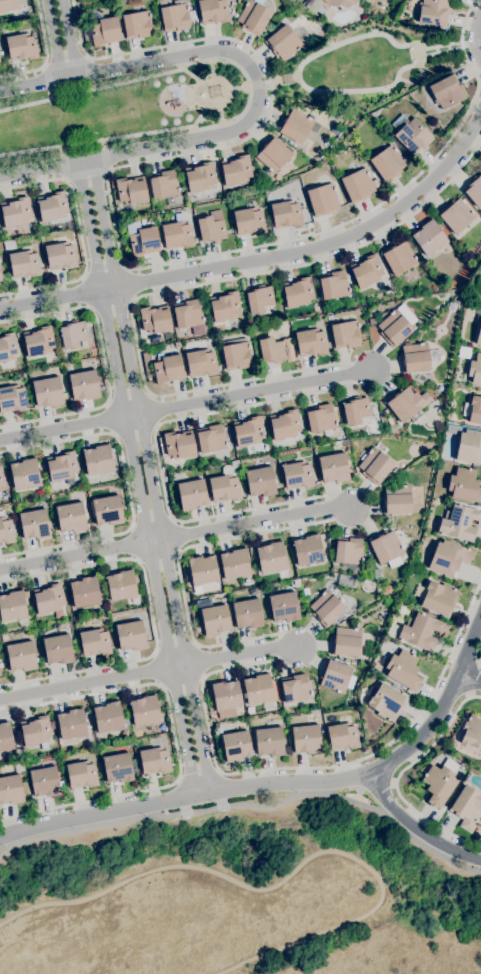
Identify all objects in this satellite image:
building: (332, 2)
building: (383, 2)
building: (10, 5)
building: (233, 5)
building: (213, 11)
building: (434, 11)
building: (253, 16)
building: (174, 17)
building: (137, 24)
building: (104, 31)
road: (61, 39)
road: (476, 40)
road: (397, 41)
building: (283, 42)
building: (21, 46)
road: (46, 55)
road: (66, 61)
road: (303, 63)
road: (90, 73)
road: (254, 76)
building: (288, 78)
road: (480, 82)
road: (34, 84)
road: (381, 87)
road: (249, 90)
building: (447, 92)
park: (119, 111)
building: (375, 113)
building: (334, 115)
building: (296, 125)
building: (431, 125)
building: (411, 133)
building: (325, 144)
building: (273, 153)
road: (63, 161)
building: (388, 163)
road: (53, 168)
road: (102, 170)
building: (236, 170)
building: (200, 177)
building: (163, 184)
building: (358, 185)
building: (131, 190)
building: (474, 190)
building: (322, 199)
building: (52, 206)
building: (15, 212)
building: (286, 214)
building: (456, 215)
building: (249, 221)
building: (211, 229)
building: (178, 233)
road: (80, 235)
building: (429, 237)
building: (142, 239)
road: (117, 240)
building: (9, 244)
building: (60, 255)
building: (398, 257)
road: (263, 260)
building: (25, 264)
road: (104, 268)
building: (366, 271)
building: (0, 275)
road: (132, 283)
building: (333, 285)
building: (478, 286)
road: (179, 288)
road: (87, 292)
building: (298, 292)
building: (447, 296)
building: (259, 299)
building: (468, 299)
road: (111, 305)
building: (225, 306)
building: (317, 307)
building: (451, 307)
building: (189, 316)
building: (329, 317)
building: (155, 320)
building: (372, 321)
building: (396, 325)
building: (478, 327)
building: (73, 333)
building: (345, 334)
building: (18, 335)
building: (38, 341)
building: (311, 342)
building: (177, 344)
building: (8, 346)
building: (461, 349)
building: (272, 350)
building: (236, 355)
building: (417, 357)
building: (0, 362)
building: (201, 362)
road: (105, 365)
building: (167, 369)
building: (475, 369)
building: (49, 372)
building: (84, 385)
building: (439, 387)
building: (47, 392)
road: (252, 394)
building: (12, 398)
road: (129, 398)
building: (403, 404)
road: (153, 410)
building: (356, 410)
building: (473, 410)
road: (111, 417)
building: (321, 418)
building: (285, 424)
road: (65, 427)
road: (136, 429)
building: (248, 431)
road: (106, 433)
building: (211, 438)
building: (346, 443)
building: (179, 444)
building: (467, 444)
road: (159, 459)
building: (98, 460)
building: (375, 465)
building: (62, 467)
building: (333, 468)
building: (396, 471)
building: (25, 473)
building: (297, 475)
road: (142, 478)
building: (1, 479)
building: (260, 481)
building: (225, 484)
building: (464, 485)
building: (0, 489)
building: (192, 494)
building: (396, 499)
building: (107, 510)
building: (71, 517)
road: (152, 520)
road: (253, 521)
building: (459, 522)
building: (34, 524)
building: (6, 530)
road: (177, 536)
building: (322, 537)
road: (65, 544)
road: (132, 544)
building: (385, 546)
building: (308, 550)
road: (76, 552)
building: (252, 553)
building: (349, 553)
road: (157, 555)
building: (271, 557)
building: (448, 557)
road: (178, 564)
building: (234, 564)
building: (326, 566)
building: (202, 571)
building: (375, 576)
building: (304, 581)
building: (347, 581)
building: (121, 585)
building: (387, 589)
building: (84, 592)
building: (437, 597)
building: (48, 598)
building: (387, 601)
building: (284, 606)
building: (14, 607)
building: (326, 608)
building: (247, 614)
road: (151, 615)
building: (214, 618)
building: (422, 631)
building: (131, 636)
building: (94, 642)
building: (345, 642)
road: (174, 648)
building: (57, 649)
building: (369, 649)
building: (21, 656)
road: (237, 657)
road: (199, 660)
building: (347, 660)
building: (3, 661)
building: (353, 662)
road: (156, 668)
building: (403, 669)
building: (335, 675)
road: (469, 679)
road: (183, 680)
road: (89, 684)
building: (296, 688)
building: (259, 690)
building: (226, 695)
building: (386, 702)
building: (145, 710)
building: (108, 717)
building: (71, 724)
building: (35, 732)
building: (472, 732)
building: (121, 734)
building: (342, 736)
building: (5, 737)
building: (306, 739)
road: (174, 740)
building: (88, 741)
building: (269, 741)
building: (236, 745)
building: (154, 760)
building: (19, 766)
road: (314, 766)
building: (117, 768)
road: (198, 773)
building: (81, 774)
road: (398, 777)
building: (44, 782)
building: (440, 782)
road: (281, 783)
building: (26, 788)
building: (11, 790)
road: (248, 805)
building: (467, 807)
road: (414, 828)
road: (290, 874)
park: (244, 897)

